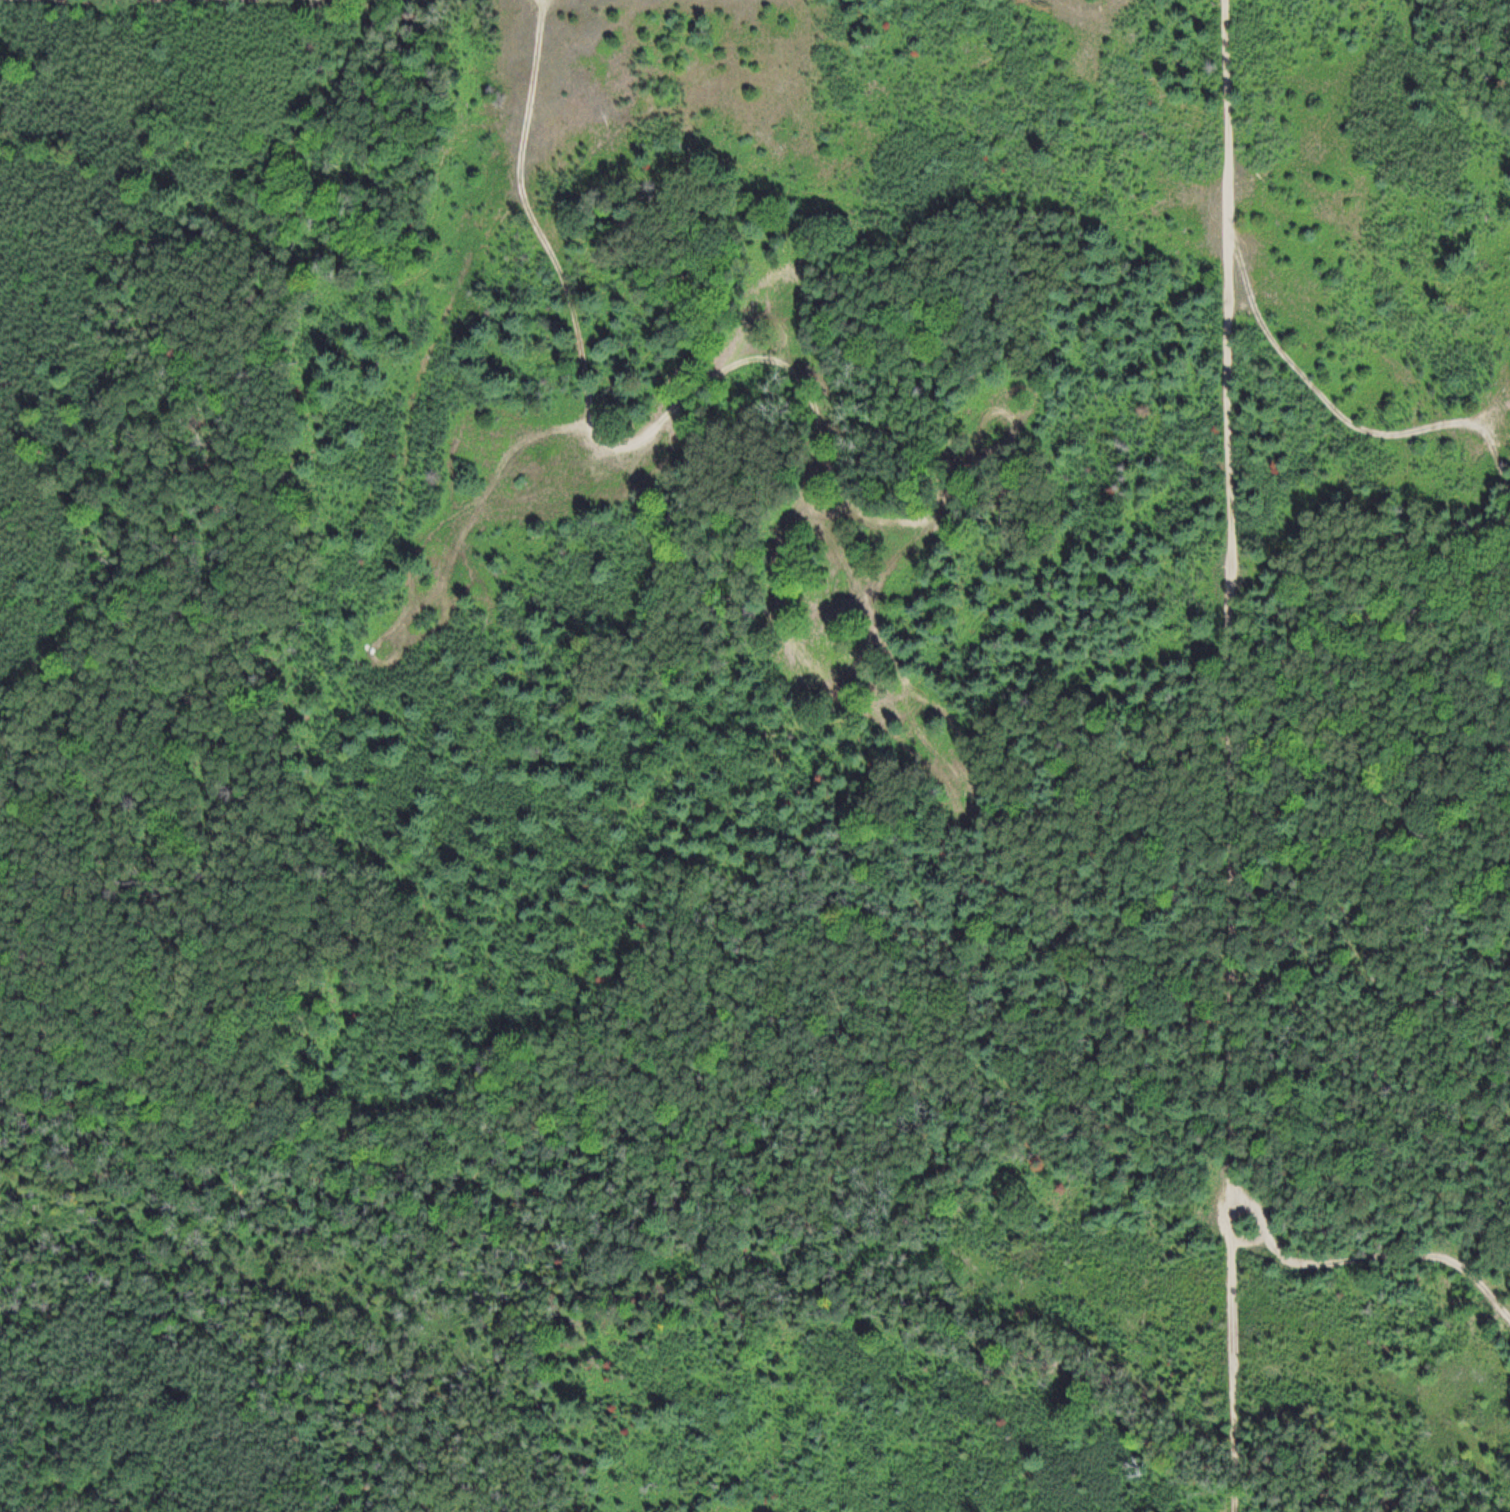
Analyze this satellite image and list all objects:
road: (1230, 592)
road: (1224, 1213)
road: (1264, 1221)
road: (1392, 1256)
road: (1234, 1330)
road: (1236, 1464)

